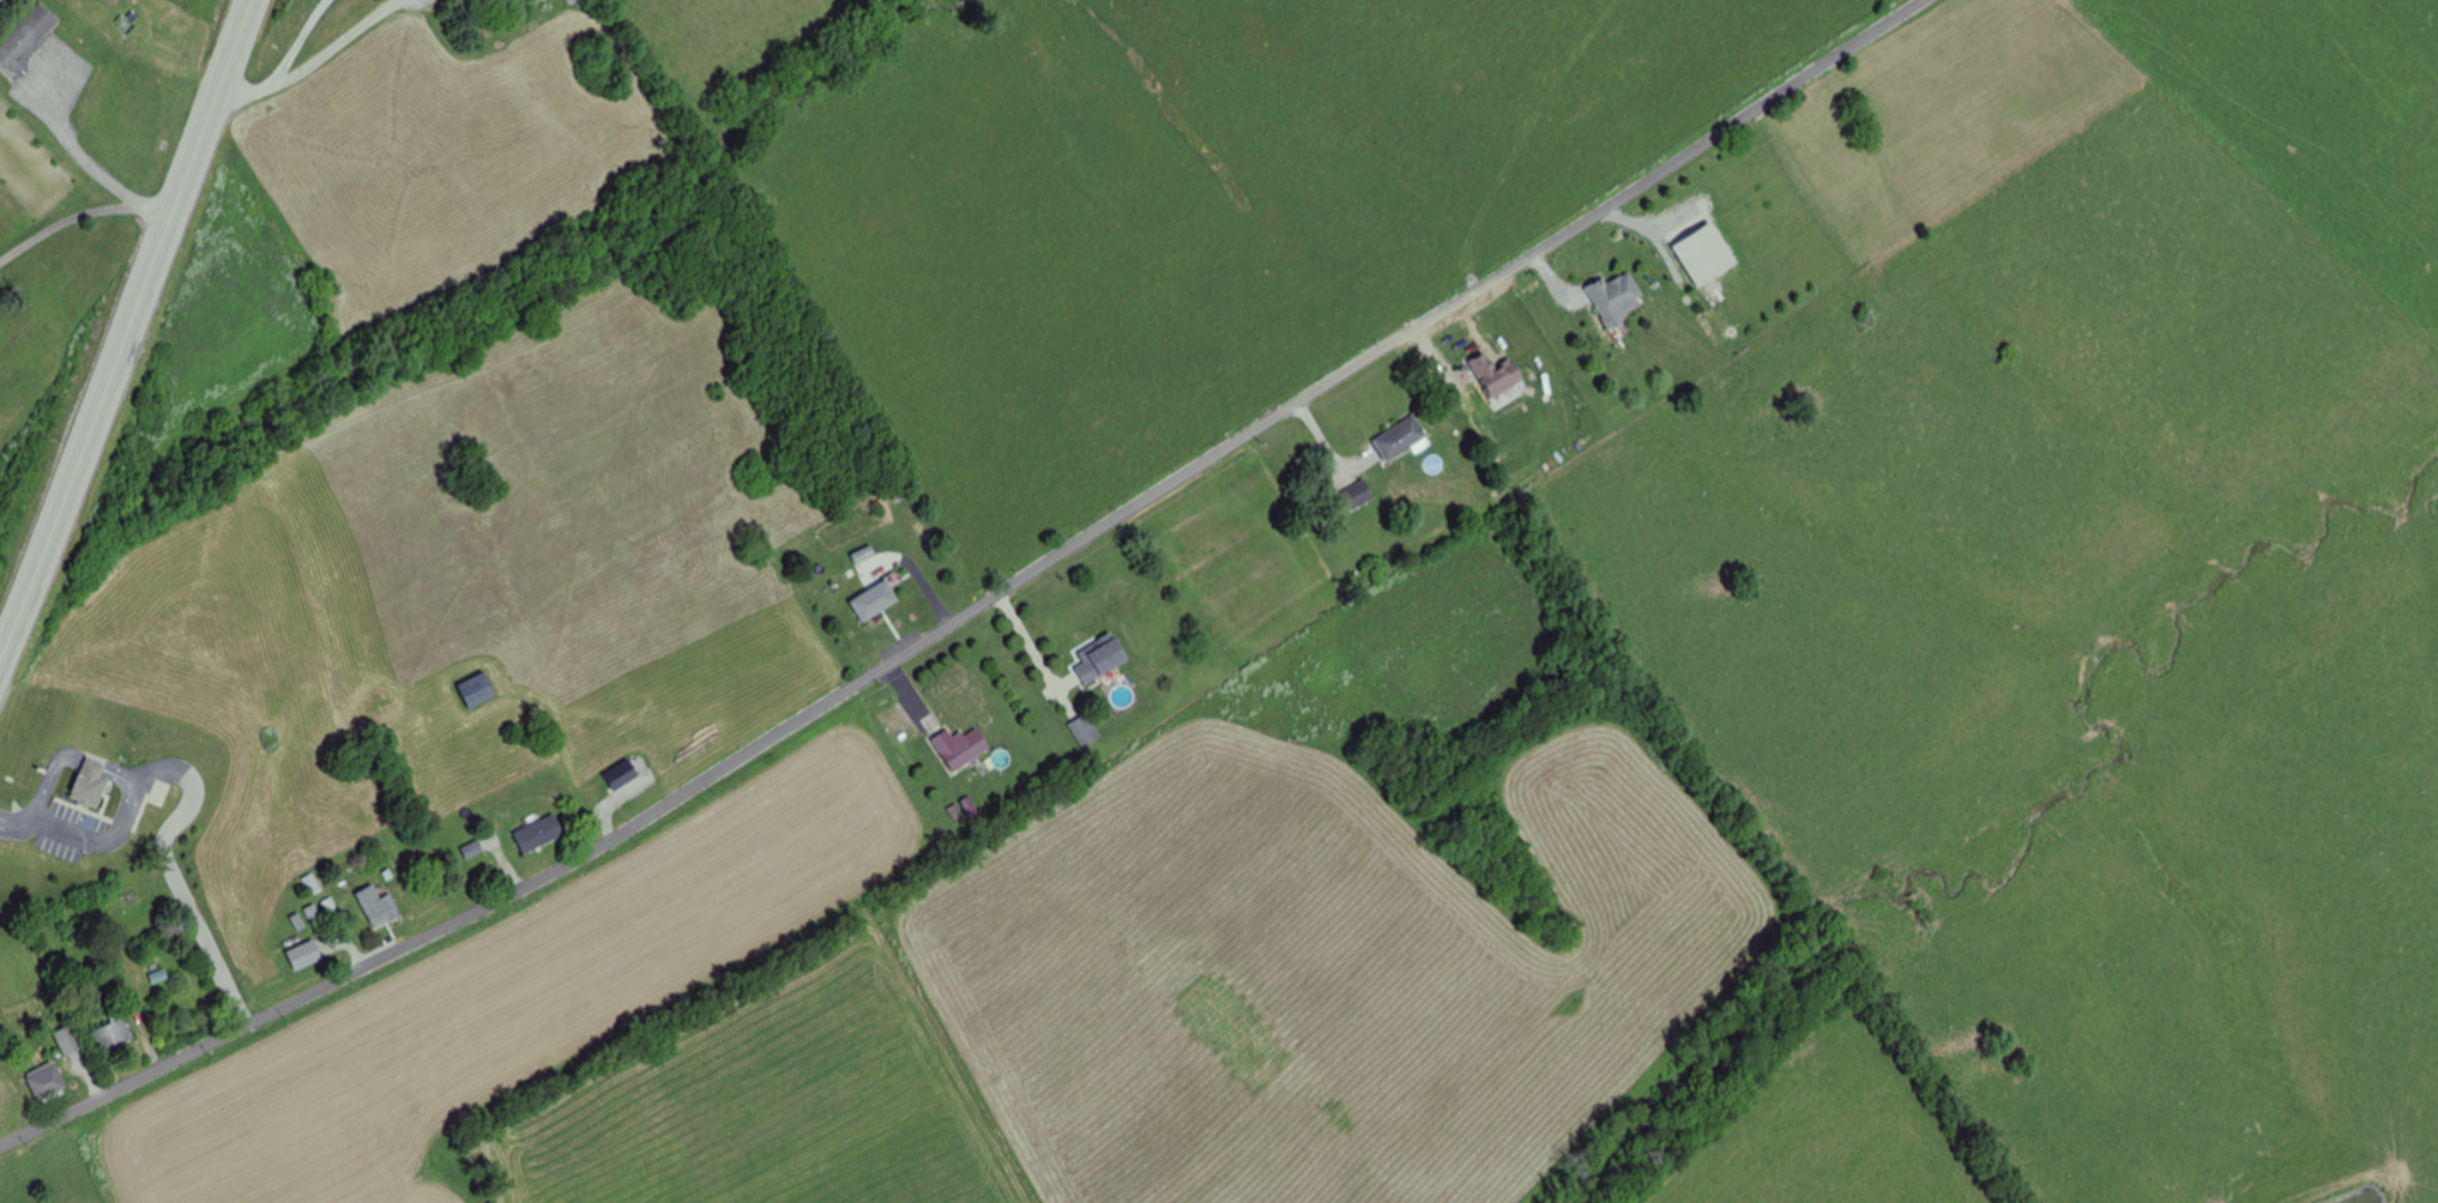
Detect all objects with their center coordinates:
building: (0, 0)
building: (29, 34)
road: (285, 65)
building: (1616, 298)
road: (127, 327)
building: (1497, 375)
building: (1400, 437)
building: (1358, 496)
building: (875, 601)
road: (977, 604)
building: (1103, 658)
building: (478, 691)
building: (961, 746)
road: (103, 768)
road: (41, 781)
building: (85, 785)
road: (186, 796)
road: (2, 816)
building: (539, 833)
building: (374, 901)
building: (68, 1040)
building: (46, 1081)

